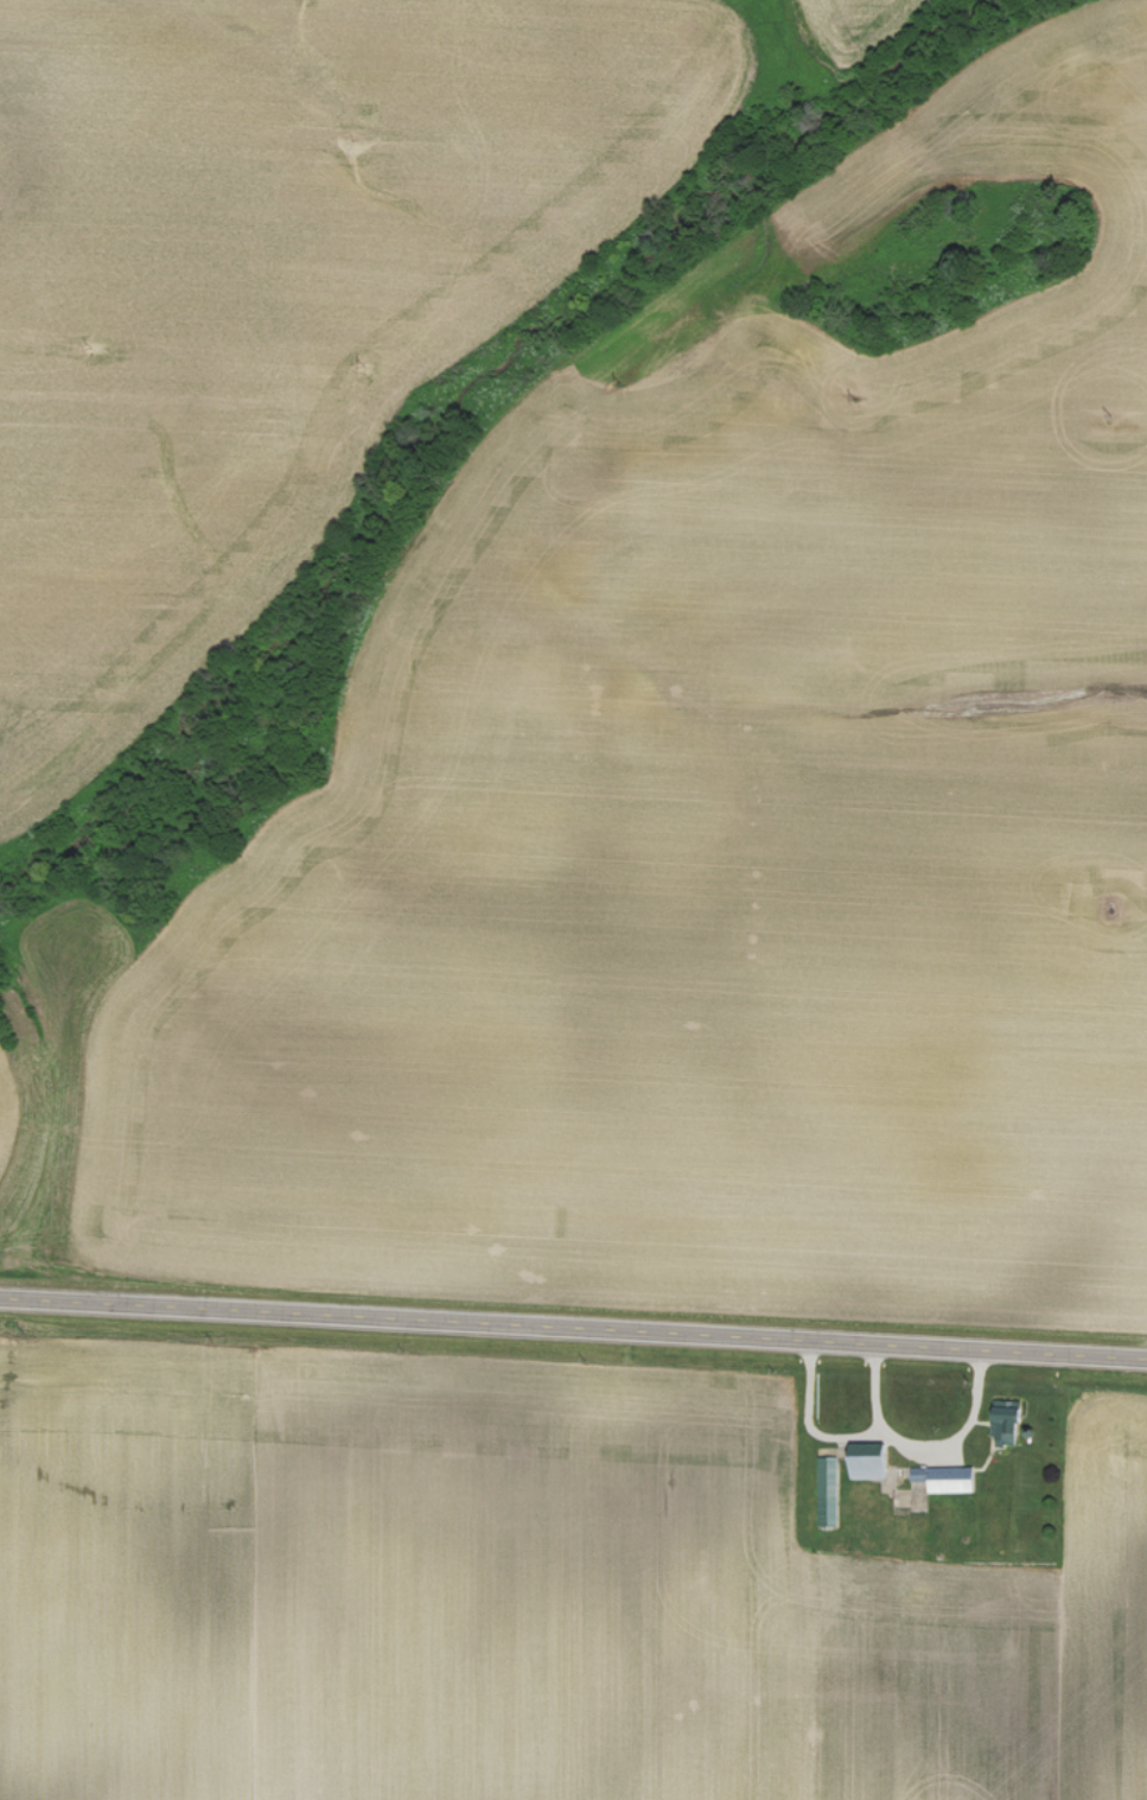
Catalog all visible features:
road: (573, 1331)
building: (942, 1477)
building: (826, 1488)

